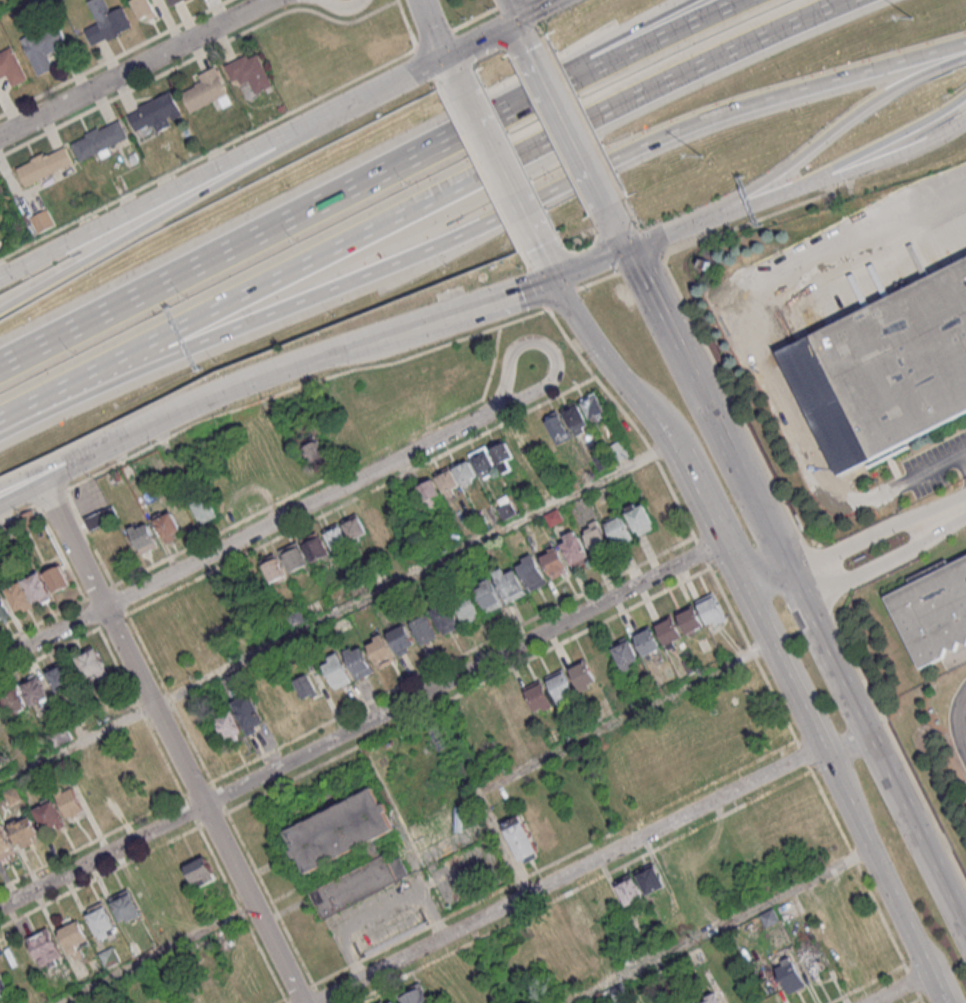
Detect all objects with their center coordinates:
building: (173, 1)
park: (6, 3)
building: (144, 9)
road: (514, 9)
road: (536, 9)
traffic signals: (519, 18)
street lamp: (913, 18)
building: (107, 21)
road: (483, 37)
road: (528, 37)
building: (44, 46)
road: (444, 47)
road: (600, 47)
road: (961, 48)
road: (629, 53)
traffic signals: (448, 56)
building: (11, 67)
road: (136, 68)
building: (249, 72)
building: (206, 90)
road: (364, 98)
building: (156, 112)
road: (836, 125)
road: (574, 132)
building: (100, 139)
road: (869, 148)
street lamp: (703, 156)
road: (869, 162)
building: (45, 165)
road: (503, 169)
road: (140, 203)
road: (419, 203)
road: (747, 205)
building: (43, 220)
road: (494, 220)
road: (143, 226)
road: (619, 228)
road: (676, 231)
road: (257, 234)
road: (843, 246)
traffic signals: (628, 249)
road: (548, 262)
road: (592, 263)
traffic signals: (557, 278)
road: (467, 311)
road: (549, 346)
road: (683, 359)
building: (901, 360)
road: (614, 367)
road: (284, 370)
building: (594, 407)
street lamp: (102, 412)
road: (774, 412)
building: (575, 418)
road: (627, 418)
road: (19, 422)
building: (556, 426)
road: (95, 442)
building: (314, 450)
building: (510, 450)
building: (618, 450)
road: (96, 456)
road: (964, 457)
building: (601, 460)
building: (483, 461)
building: (446, 483)
road: (897, 485)
road: (702, 492)
road: (754, 500)
building: (505, 506)
road: (962, 508)
building: (204, 509)
building: (650, 514)
building: (102, 517)
building: (492, 518)
building: (169, 526)
building: (354, 526)
road: (880, 526)
building: (619, 530)
building: (144, 536)
building: (335, 536)
road: (246, 537)
building: (595, 537)
building: (315, 546)
building: (120, 548)
building: (574, 548)
road: (701, 551)
road: (891, 555)
building: (294, 557)
building: (554, 562)
building: (274, 567)
building: (531, 572)
building: (59, 579)
road: (783, 582)
building: (509, 583)
building: (39, 588)
building: (488, 595)
building: (21, 597)
building: (467, 607)
building: (711, 608)
building: (4, 610)
road: (337, 611)
building: (933, 612)
building: (445, 618)
building: (689, 619)
building: (424, 629)
building: (668, 630)
building: (402, 639)
building: (646, 641)
building: (381, 650)
road: (751, 653)
building: (626, 655)
building: (359, 661)
building: (93, 664)
building: (690, 665)
building: (336, 669)
building: (582, 675)
building: (63, 677)
building: (306, 686)
building: (560, 687)
building: (36, 689)
building: (540, 697)
building: (16, 701)
building: (518, 707)
building: (249, 713)
building: (3, 714)
building: (495, 719)
road: (961, 721)
road: (362, 723)
building: (229, 726)
road: (865, 733)
road: (964, 735)
road: (841, 736)
road: (175, 742)
road: (802, 754)
road: (532, 762)
road: (832, 770)
building: (70, 801)
building: (51, 813)
building: (586, 816)
building: (27, 828)
building: (520, 839)
building: (7, 842)
building: (346, 850)
road: (856, 866)
building: (200, 872)
road: (566, 874)
building: (650, 878)
building: (629, 889)
building: (127, 904)
building: (580, 914)
building: (104, 919)
road: (724, 923)
road: (366, 924)
building: (76, 934)
building: (46, 942)
road: (159, 954)
building: (110, 957)
building: (813, 961)
building: (790, 974)
building: (2, 976)
road: (911, 980)
road: (900, 988)
building: (413, 995)
road: (943, 995)
building: (711, 999)
road: (913, 1000)
road: (920, 1000)
building: (392, 1002)

